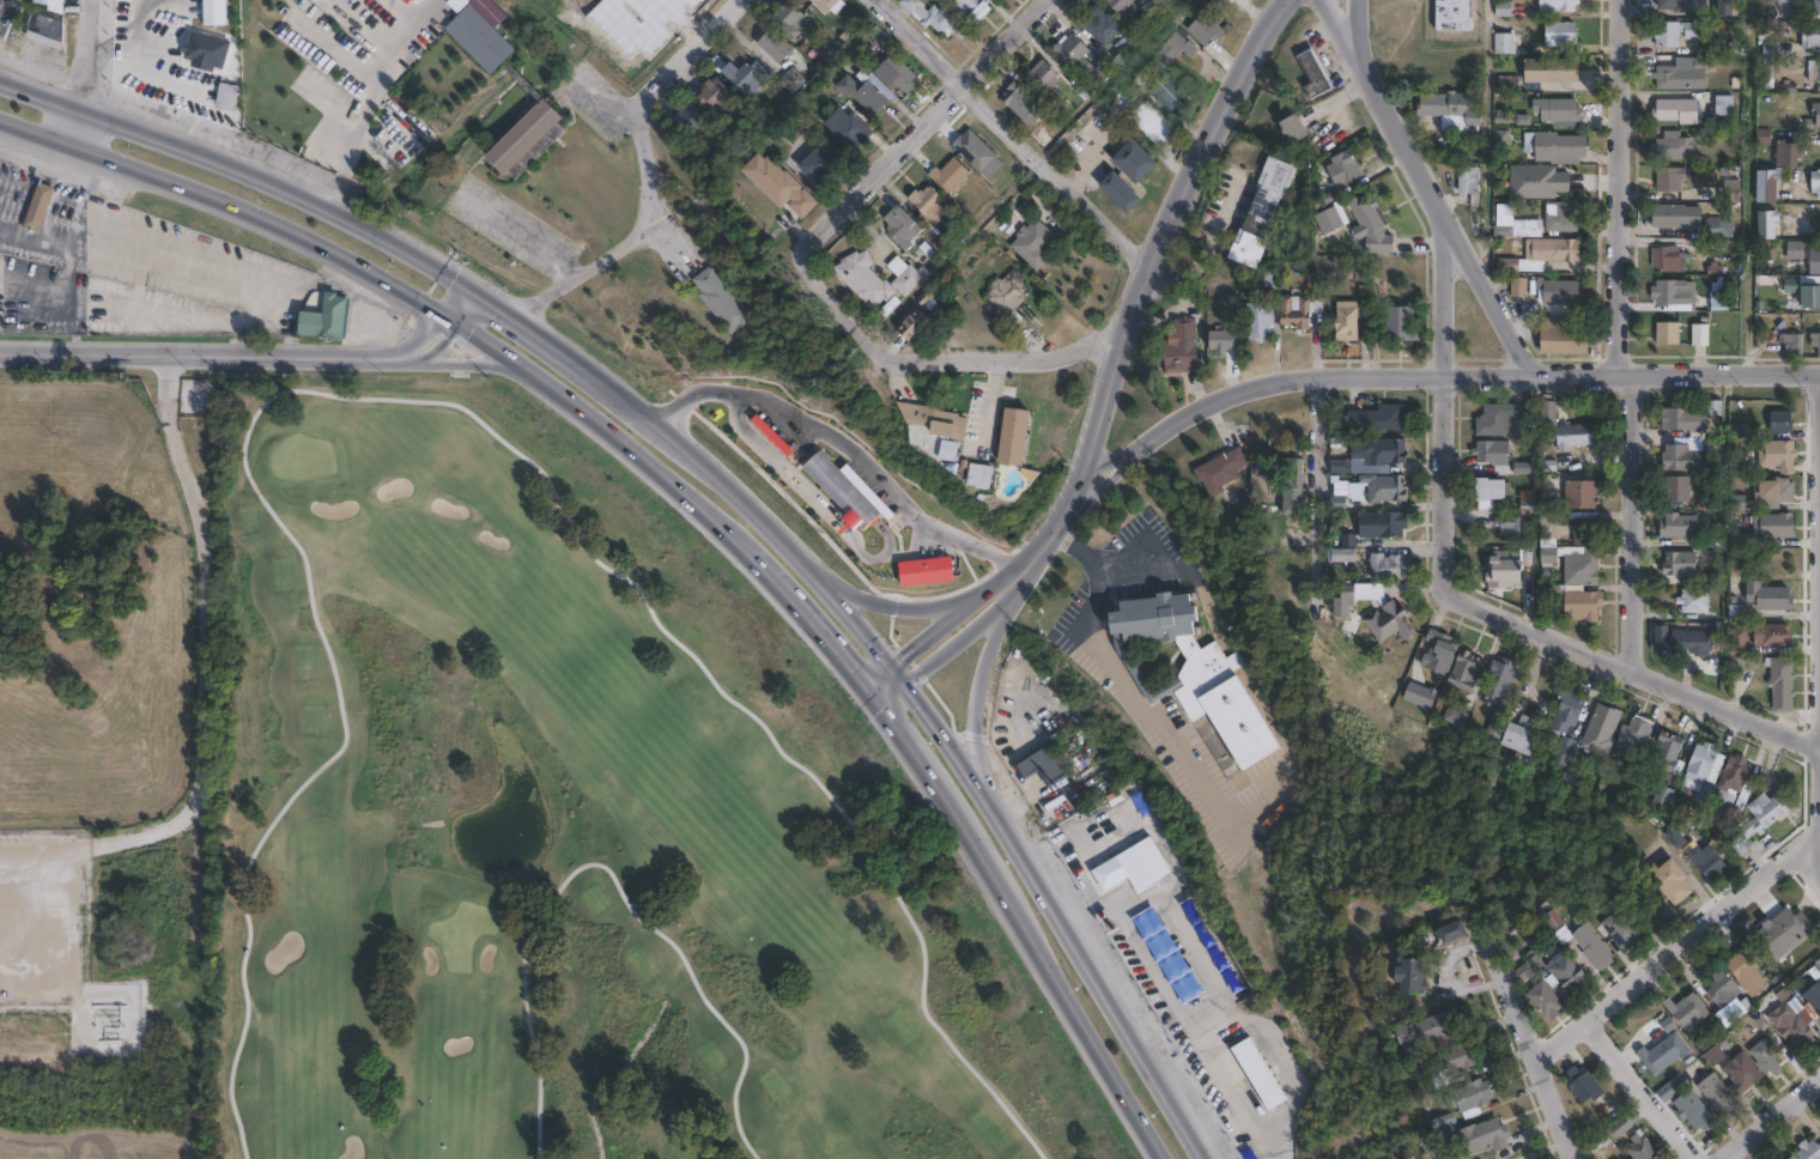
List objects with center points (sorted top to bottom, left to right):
building: (830, 5)
building: (1121, 5)
building: (1560, 5)
building: (1676, 5)
building: (1728, 7)
building: (1818, 7)
building: (973, 8)
building: (1456, 14)
building: (48, 18)
building: (936, 18)
building: (1149, 18)
building: (789, 20)
building: (1104, 25)
road: (1340, 26)
road: (359, 29)
road: (413, 29)
building: (1205, 29)
building: (1563, 32)
building: (1676, 32)
building: (1812, 36)
building: (1507, 43)
building: (776, 45)
building: (1771, 47)
road: (332, 48)
building: (1176, 48)
building: (177, 59)
building: (1081, 60)
building: (855, 62)
building: (1553, 69)
building: (1819, 72)
building: (1315, 73)
road: (87, 74)
building: (900, 74)
building: (740, 75)
building: (1685, 75)
building: (1044, 77)
building: (793, 81)
building: (1509, 83)
building: (527, 86)
building: (867, 92)
building: (1170, 92)
building: (226, 96)
building: (717, 96)
building: (1023, 104)
building: (1117, 104)
building: (1727, 105)
road: (328, 108)
building: (1678, 108)
building: (1452, 110)
building: (1559, 110)
road: (1385, 113)
road: (933, 115)
road: (395, 120)
building: (687, 120)
building: (1154, 123)
building: (851, 129)
building: (1296, 129)
road: (356, 132)
road: (1005, 134)
building: (1673, 146)
building: (1558, 147)
building: (1790, 154)
building: (823, 160)
building: (1135, 160)
building: (1345, 169)
road: (235, 171)
building: (951, 176)
road: (644, 177)
building: (1672, 178)
building: (1818, 178)
building: (1469, 181)
building: (1539, 182)
building: (778, 184)
building: (1770, 186)
road: (1614, 187)
building: (1734, 190)
building: (1122, 193)
building: (930, 204)
road: (225, 205)
road: (105, 206)
building: (40, 208)
building: (1263, 212)
road: (754, 217)
building: (1563, 217)
building: (1330, 220)
building: (1678, 220)
building: (1770, 224)
building: (1372, 225)
building: (903, 226)
building: (1521, 229)
building: (1721, 229)
road: (1160, 239)
building: (1033, 243)
road: (805, 245)
building: (1796, 250)
road: (1207, 253)
building: (1543, 255)
building: (1669, 259)
building: (1815, 261)
building: (905, 275)
building: (864, 278)
traffic signals: (459, 285)
building: (1519, 287)
building: (1560, 292)
building: (1675, 293)
building: (1008, 296)
traffic signals: (477, 297)
road: (1485, 297)
road: (450, 298)
building: (1812, 298)
road: (483, 301)
building: (722, 301)
building: (1721, 302)
building: (1196, 307)
building: (1300, 310)
traffic signals: (442, 312)
building: (328, 317)
building: (1348, 321)
building: (1261, 322)
traffic signals: (459, 323)
building: (1402, 324)
building: (915, 326)
building: (1669, 333)
building: (1701, 335)
building: (1565, 336)
road: (418, 340)
building: (1225, 340)
building: (1816, 342)
road: (441, 345)
building: (1794, 345)
building: (1182, 346)
road: (879, 352)
road: (1062, 352)
road: (193, 353)
road: (477, 363)
road: (575, 364)
road: (1469, 374)
road: (688, 399)
building: (1549, 412)
building: (1381, 419)
building: (1500, 419)
building: (1693, 419)
building: (936, 421)
building: (1783, 423)
road: (601, 425)
building: (1577, 437)
building: (1015, 438)
building: (951, 451)
road: (1134, 455)
building: (1378, 455)
building: (1494, 455)
building: (1779, 455)
building: (1692, 456)
road: (776, 463)
building: (1221, 472)
road: (1314, 472)
building: (982, 477)
road: (876, 481)
building: (1293, 487)
building: (1494, 490)
building: (1681, 490)
building: (843, 491)
building: (1388, 491)
building: (1778, 493)
building: (1583, 496)
building: (1343, 504)
building: (1712, 505)
building: (1384, 524)
road: (1628, 524)
building: (1777, 526)
building: (1683, 527)
building: (1516, 528)
road: (838, 529)
building: (1587, 533)
road: (1048, 539)
building: (1740, 540)
road: (859, 550)
road: (912, 551)
building: (1343, 556)
building: (1551, 558)
building: (1681, 564)
building: (1389, 568)
building: (1504, 569)
building: (1584, 569)
building: (926, 572)
building: (1771, 597)
road: (1461, 601)
building: (1697, 602)
road: (893, 605)
building: (1585, 606)
building: (1740, 612)
building: (1391, 615)
road: (936, 625)
road: (815, 626)
road: (200, 635)
building: (1774, 636)
building: (1693, 642)
road: (951, 644)
building: (1440, 653)
traffic signals: (887, 663)
building: (1468, 672)
road: (1112, 681)
building: (1199, 681)
building: (1503, 681)
traffic signals: (861, 684)
traffic signals: (904, 684)
building: (1783, 685)
building: (1419, 694)
traffic signals: (878, 705)
building: (1569, 714)
building: (1498, 726)
building: (1603, 730)
building: (1637, 733)
building: (1525, 735)
road: (982, 744)
building: (1565, 753)
building: (1669, 753)
road: (954, 759)
building: (1044, 765)
building: (1636, 769)
building: (1704, 772)
building: (1737, 788)
building: (1666, 794)
building: (1141, 803)
building: (1765, 813)
park: (575, 829)
building: (1676, 837)
building: (1743, 845)
building: (1709, 861)
building: (1126, 870)
building: (1673, 880)
building: (1624, 928)
building: (1455, 930)
road: (1021, 932)
building: (1786, 932)
road: (1675, 936)
building: (1594, 946)
building: (1167, 953)
building: (1819, 963)
building: (1748, 970)
building: (1569, 971)
building: (1413, 975)
building: (1724, 988)
building: (1546, 1000)
building: (1689, 1009)
building: (1797, 1015)
building: (1757, 1020)
building: (1431, 1030)
road: (1529, 1045)
building: (1666, 1052)
building: (1716, 1055)
building: (1454, 1058)
building: (1770, 1063)
building: (1228, 1066)
building: (1743, 1072)
building: (1263, 1073)
building: (1585, 1085)
road: (1633, 1086)
building: (1672, 1088)
building: (1719, 1094)
building: (1472, 1098)
building: (1697, 1111)
road: (1769, 1117)
building: (1625, 1123)
building: (1486, 1136)
building: (1601, 1145)
building: (1644, 1148)
building: (1809, 1148)
building: (1786, 1157)
building: (1791, 1157)
building: (1616, 1158)
building: (1780, 1158)

